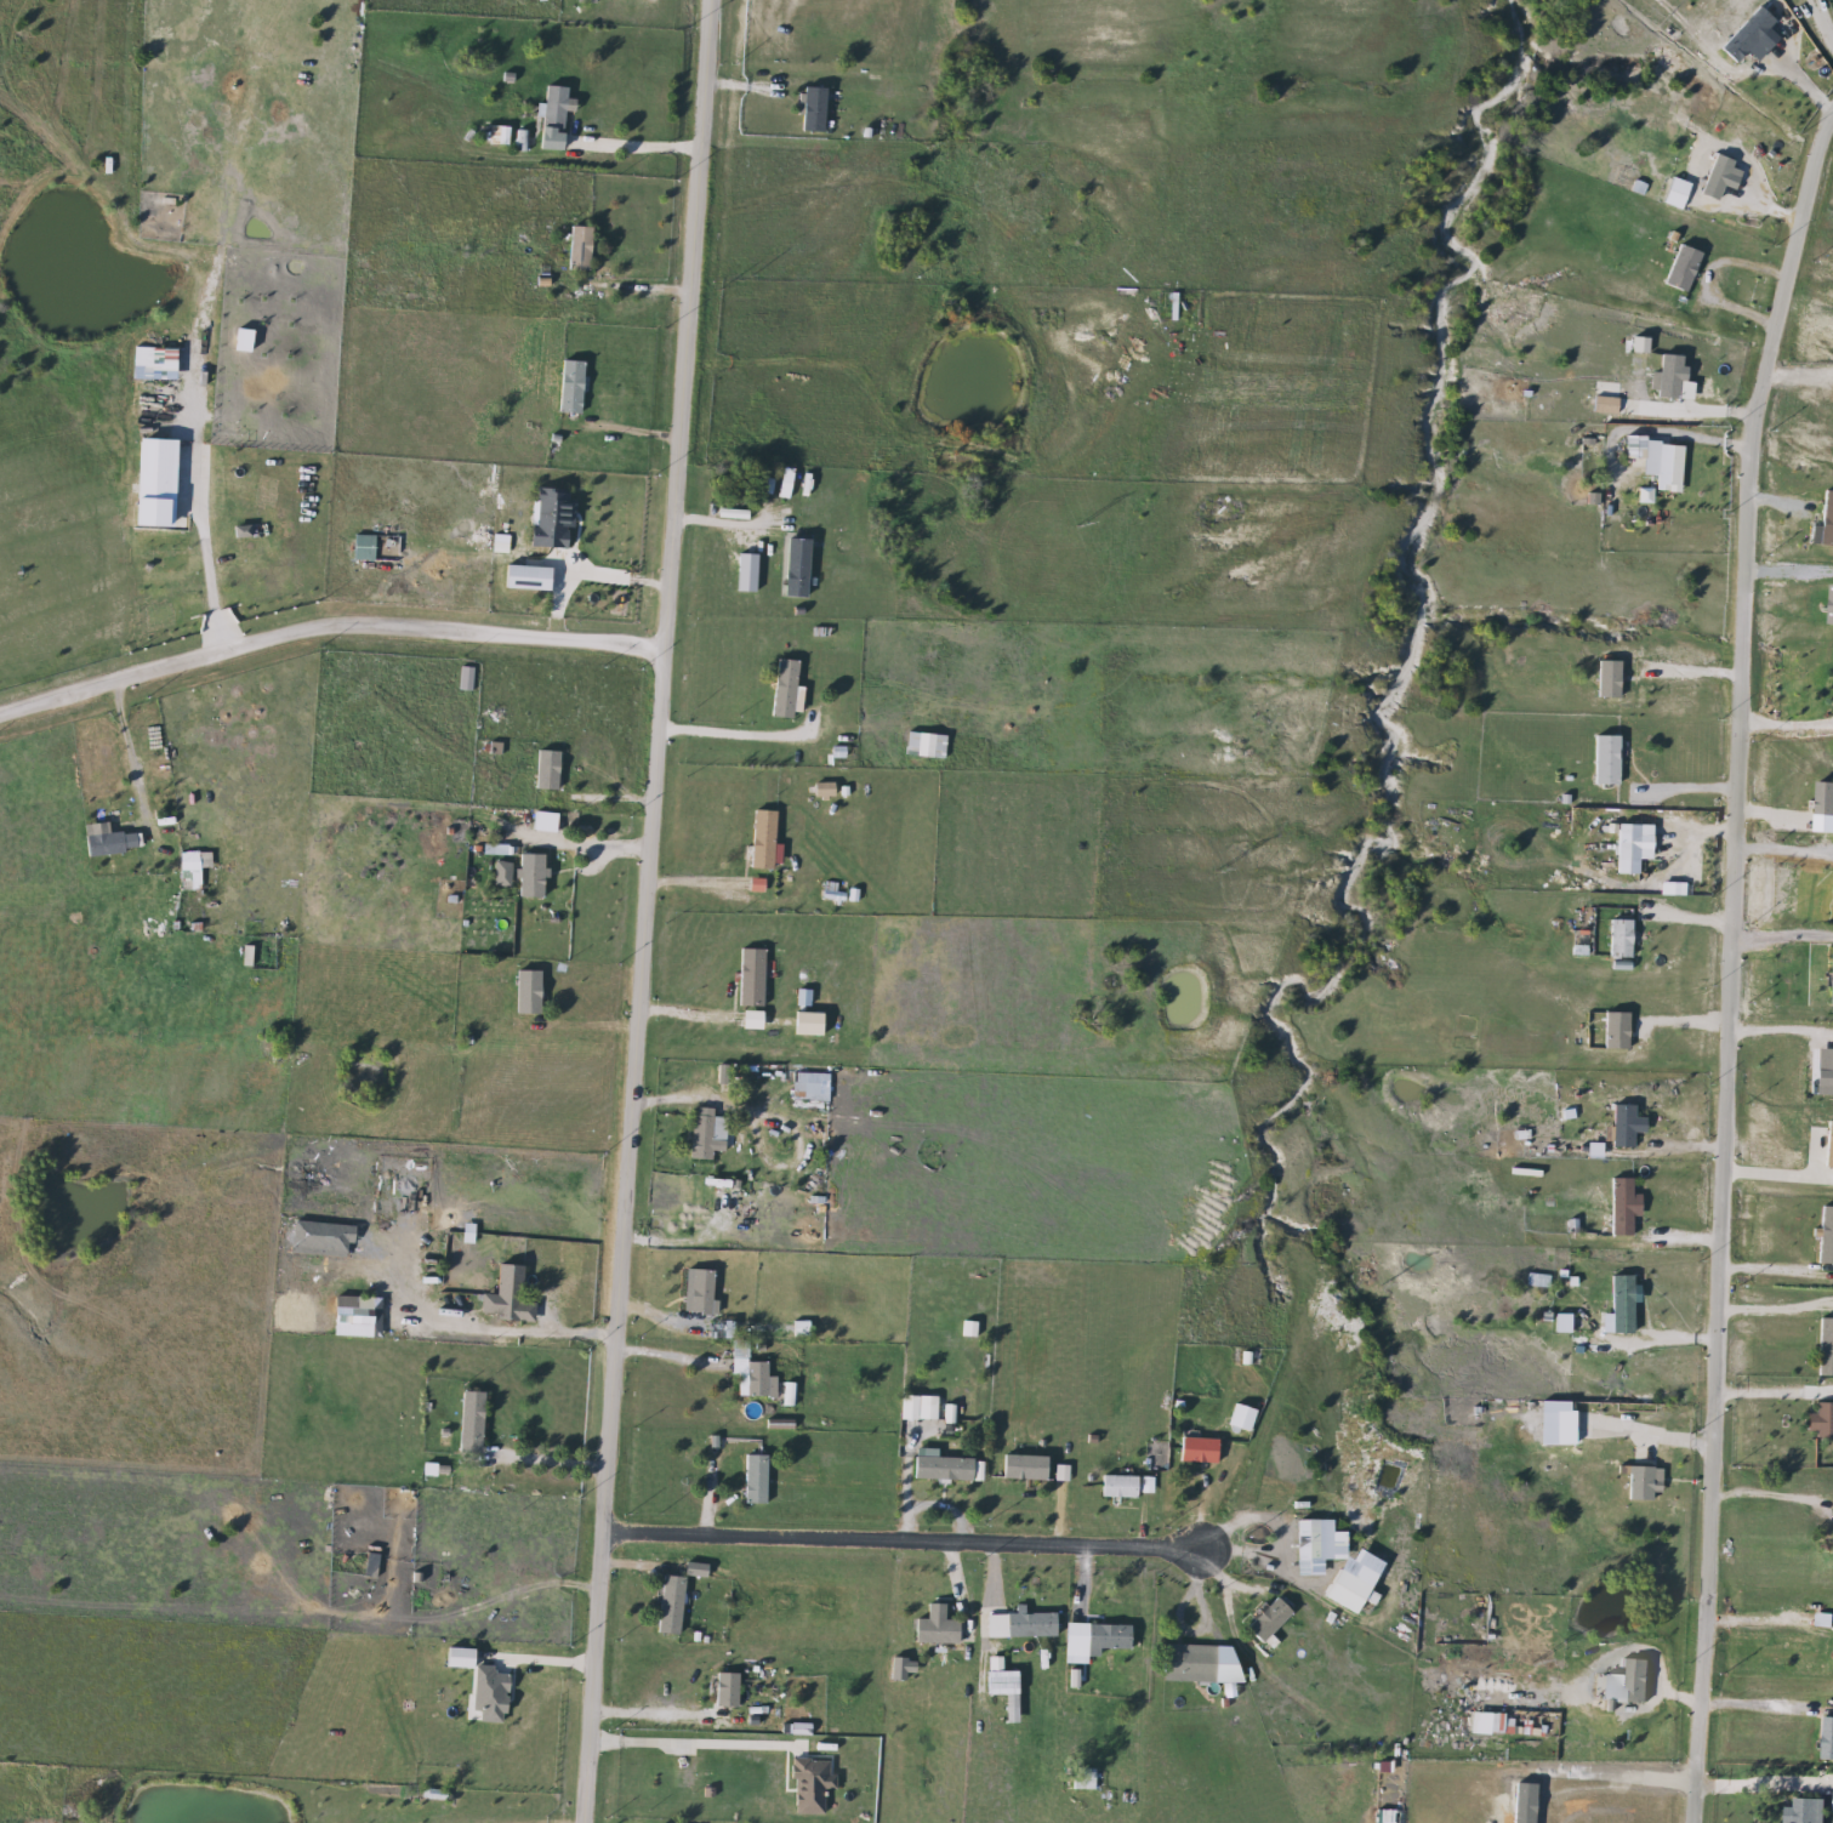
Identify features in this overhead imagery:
road: (1823, 18)
building: (552, 108)
building: (812, 109)
road: (643, 133)
building: (576, 249)
road: (1719, 267)
building: (1680, 268)
road: (1797, 364)
building: (569, 387)
building: (785, 482)
building: (764, 485)
building: (548, 519)
building: (1826, 519)
building: (362, 547)
building: (524, 566)
building: (793, 566)
road: (615, 574)
road: (212, 583)
building: (1829, 605)
road: (326, 628)
building: (1606, 679)
building: (782, 688)
road: (1783, 716)
road: (729, 731)
building: (922, 746)
road: (129, 754)
building: (1604, 760)
building: (543, 770)
building: (820, 791)
building: (759, 839)
building: (109, 844)
road: (1780, 848)
building: (187, 858)
building: (529, 876)
road: (648, 911)
road: (1778, 928)
building: (1617, 939)
road: (1724, 965)
building: (750, 979)
building: (525, 993)
building: (806, 1024)
road: (1787, 1027)
building: (719, 1076)
building: (808, 1088)
road: (762, 1124)
building: (699, 1138)
road: (1783, 1174)
building: (1619, 1207)
building: (1823, 1237)
road: (679, 1242)
building: (700, 1292)
building: (506, 1293)
building: (1619, 1305)
road: (1766, 1310)
building: (717, 1331)
road: (552, 1332)
building: (1823, 1348)
road: (667, 1355)
building: (747, 1374)
building: (917, 1408)
building: (1239, 1418)
building: (1820, 1422)
building: (468, 1423)
building: (1197, 1449)
road: (545, 1458)
building: (939, 1469)
building: (1021, 1469)
building: (753, 1480)
building: (1634, 1481)
building: (1144, 1483)
building: (1116, 1487)
road: (1763, 1494)
road: (899, 1549)
building: (691, 1571)
building: (668, 1606)
road: (1755, 1619)
building: (1265, 1622)
building: (1027, 1627)
building: (1101, 1639)
building: (1186, 1664)
building: (998, 1685)
building: (459, 1692)
road: (1755, 1705)
road: (651, 1709)
road: (695, 1732)
building: (1826, 1741)
building: (678, 1772)
road: (1761, 1774)
building: (1081, 1781)
building: (1805, 1812)

